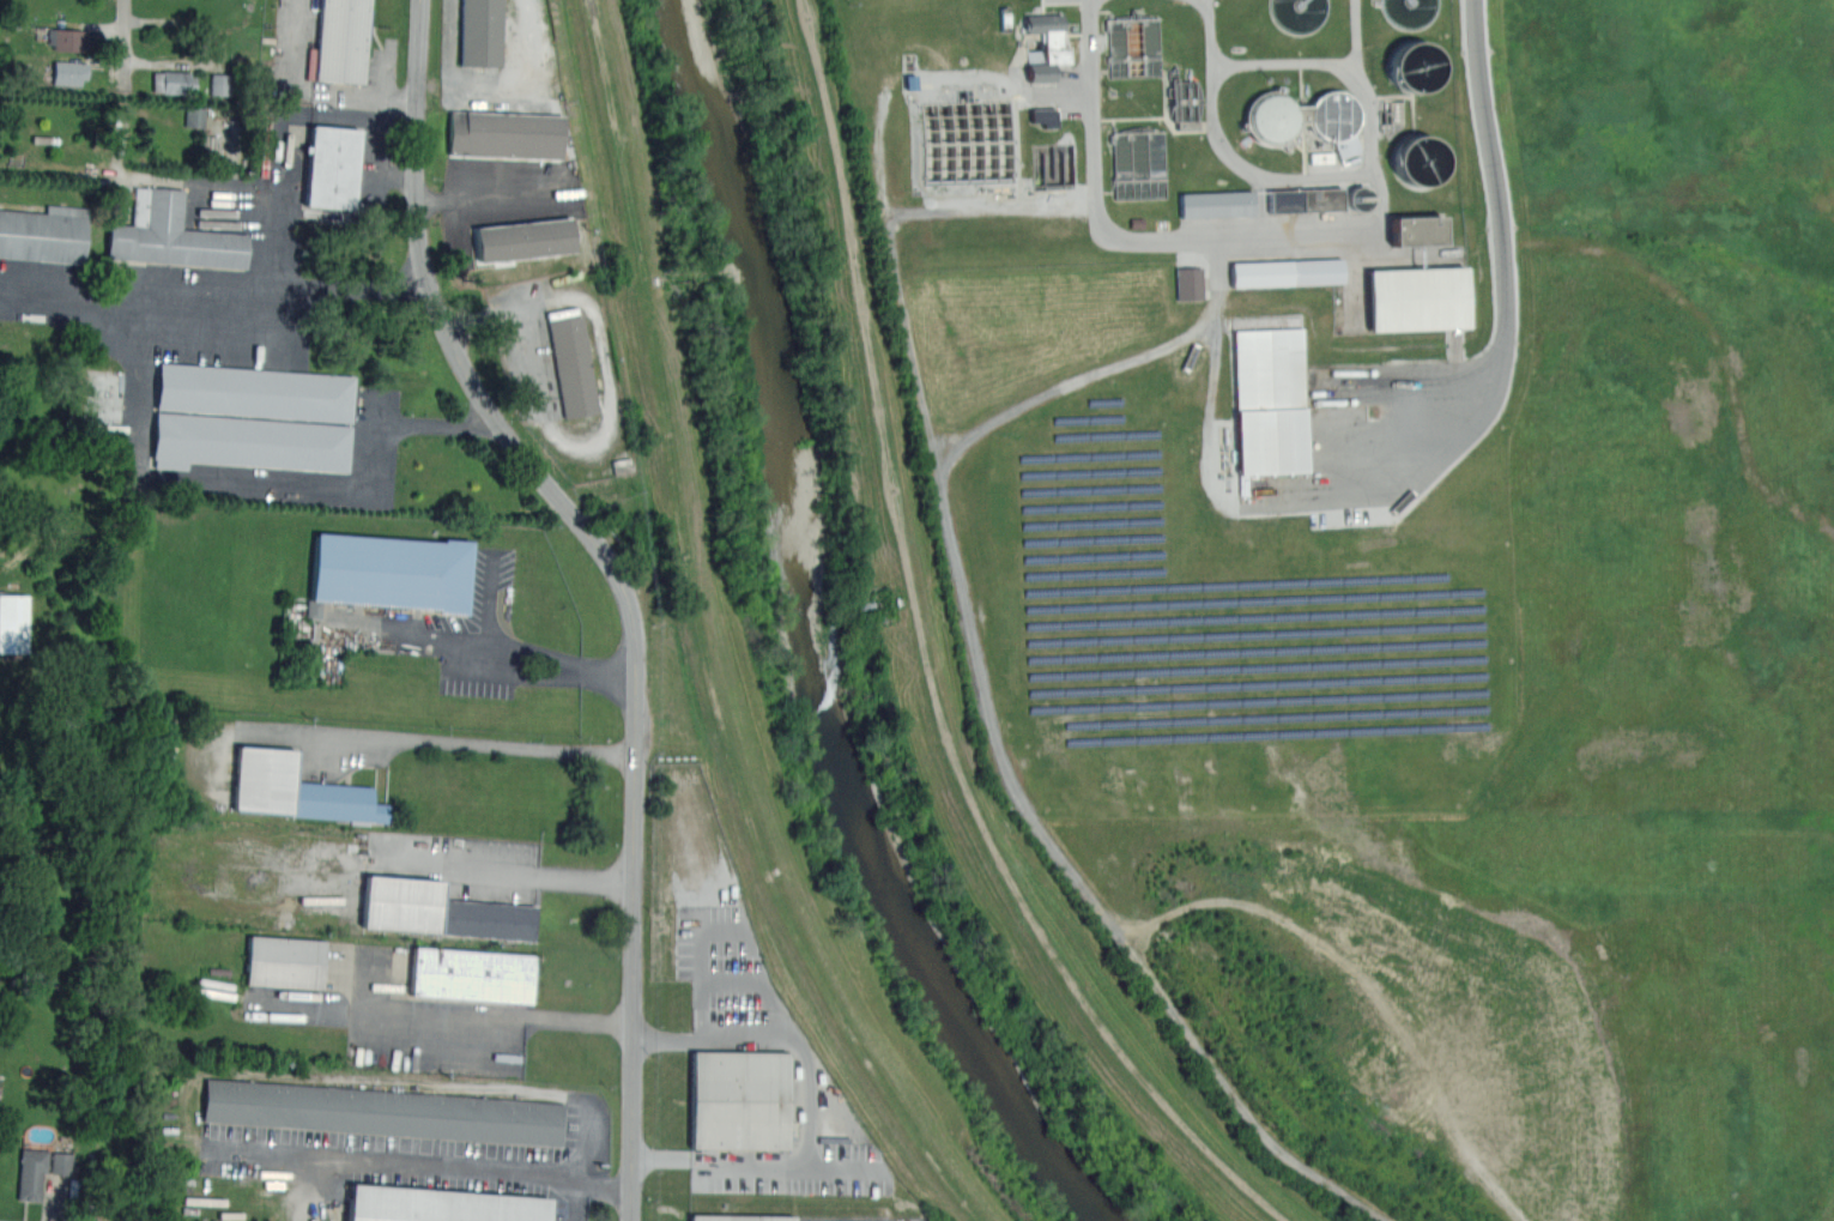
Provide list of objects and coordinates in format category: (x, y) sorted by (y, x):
building: (480, 34)
road: (525, 35)
building: (67, 40)
building: (340, 40)
building: (1048, 46)
road: (1337, 64)
building: (69, 73)
building: (172, 81)
building: (220, 84)
road: (127, 89)
road: (313, 90)
building: (195, 117)
road: (283, 131)
building: (504, 134)
building: (1138, 162)
road: (878, 164)
building: (331, 165)
road: (1324, 177)
building: (1287, 200)
building: (1239, 203)
road: (991, 208)
building: (43, 235)
building: (170, 235)
building: (525, 240)
building: (1288, 272)
building: (1190, 282)
building: (1417, 300)
road: (276, 315)
parking lot: (259, 320)
building: (573, 365)
wastewater plant: (1211, 377)
road: (612, 382)
building: (254, 394)
building: (1271, 400)
road: (1432, 413)
building: (249, 442)
road: (264, 479)
road: (956, 548)
building: (388, 572)
road: (637, 573)
solar farm: (1224, 621)
building: (13, 624)
river: (809, 640)
road: (557, 660)
road: (464, 741)
road: (610, 751)
building: (296, 787)
road: (507, 869)
building: (440, 911)
road: (703, 961)
building: (285, 962)
building: (470, 975)
parking lot: (394, 999)
road: (446, 1011)
parking lot: (761, 1082)
building: (739, 1100)
road: (811, 1101)
building: (383, 1112)
parking lot: (425, 1157)
building: (62, 1163)
road: (419, 1166)
building: (32, 1173)
building: (438, 1204)
parking lot: (799, 1217)
building: (738, 1219)

